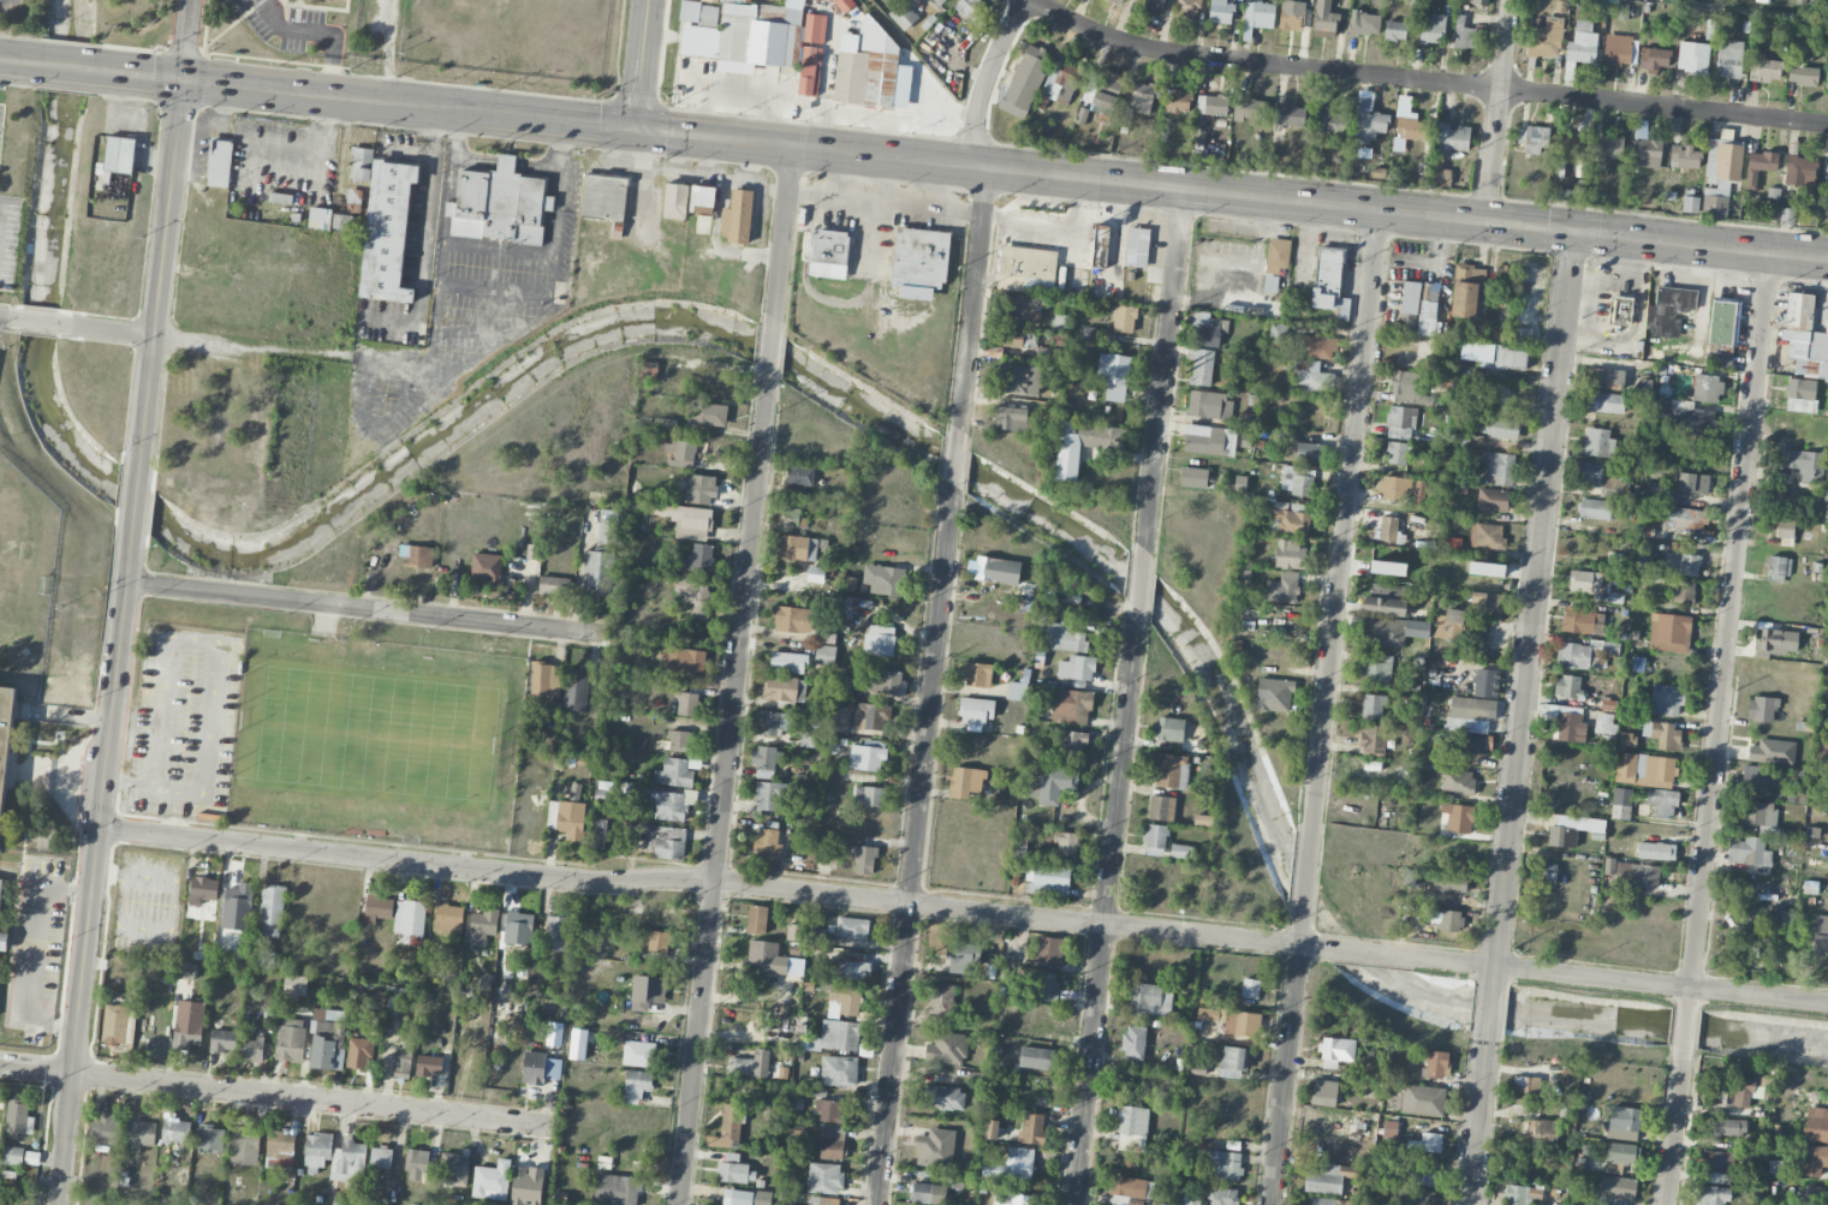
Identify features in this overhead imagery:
building: (716, 0)
building: (776, 0)
building: (817, 0)
building: (939, 1)
building: (1121, 1)
building: (1800, 1)
building: (1479, 2)
building: (844, 5)
parking lot: (8, 6)
building: (1156, 6)
building: (966, 7)
road: (1762, 7)
building: (1189, 8)
building: (1221, 11)
building: (698, 13)
building: (1291, 14)
building: (903, 16)
building: (1257, 17)
building: (1324, 19)
building: (1364, 24)
building: (814, 29)
building: (1431, 29)
building: (1395, 31)
road: (317, 34)
building: (1465, 35)
road: (186, 38)
building: (740, 38)
building: (1544, 38)
building: (1580, 47)
building: (1616, 49)
building: (1653, 59)
building: (1728, 59)
road: (22, 60)
road: (642, 62)
road: (916, 64)
road: (69, 65)
building: (867, 67)
building: (1764, 68)
building: (810, 71)
building: (1827, 74)
building: (1803, 76)
traffic signals: (183, 78)
road: (987, 78)
building: (1025, 82)
road: (1427, 82)
building: (1059, 84)
building: (1106, 93)
building: (1142, 97)
building: (1177, 101)
building: (1211, 105)
building: (1250, 111)
road: (1499, 111)
building: (1290, 115)
building: (1328, 119)
building: (1368, 121)
traffic signals: (636, 126)
building: (1411, 129)
building: (1451, 138)
building: (1534, 138)
building: (1572, 144)
building: (1612, 147)
building: (1647, 153)
building: (117, 157)
building: (1685, 157)
building: (1762, 161)
road: (961, 162)
building: (219, 163)
building: (1579, 168)
building: (1800, 171)
building: (1720, 175)
road: (883, 178)
building: (1441, 178)
building: (1750, 179)
building: (1826, 184)
building: (603, 197)
building: (702, 199)
building: (675, 201)
road: (885, 202)
building: (499, 204)
building: (1689, 204)
building: (1786, 216)
building: (738, 217)
building: (328, 220)
road: (784, 228)
building: (387, 232)
road: (422, 237)
building: (1098, 246)
building: (1137, 247)
building: (828, 255)
building: (1278, 255)
building: (919, 262)
building: (1029, 267)
road: (162, 275)
building: (1507, 276)
building: (1329, 282)
building: (1466, 290)
building: (1429, 291)
road: (972, 294)
building: (1024, 306)
building: (1409, 308)
building: (1619, 311)
building: (1669, 311)
road: (6, 318)
building: (1428, 318)
building: (1124, 320)
road: (36, 322)
building: (1723, 322)
building: (1826, 327)
building: (1207, 329)
building: (1465, 330)
building: (1278, 333)
building: (1804, 336)
building: (1522, 338)
building: (1012, 339)
road: (203, 341)
road: (770, 346)
building: (1318, 346)
building: (1047, 356)
building: (1502, 358)
road: (1165, 365)
building: (1201, 365)
building: (649, 374)
building: (1113, 376)
building: (1312, 378)
building: (1604, 378)
building: (1019, 380)
building: (1406, 383)
building: (1800, 395)
building: (1606, 402)
building: (1209, 406)
building: (707, 414)
building: (1011, 418)
building: (1696, 422)
building: (1400, 423)
building: (1499, 428)
building: (1209, 441)
building: (1598, 443)
building: (1308, 453)
building: (1397, 453)
building: (680, 454)
road: (954, 454)
building: (1805, 464)
building: (1066, 465)
building: (1500, 467)
building: (1590, 475)
building: (799, 476)
building: (1193, 477)
building: (1297, 481)
building: (1692, 483)
building: (1394, 488)
building: (699, 489)
building: (1419, 493)
building: (1657, 494)
road: (138, 499)
building: (1493, 501)
building: (1822, 505)
building: (1595, 509)
building: (1687, 518)
building: (685, 520)
building: (1290, 520)
building: (793, 521)
road: (1345, 521)
building: (1388, 529)
building: (607, 531)
building: (1785, 531)
building: (1488, 535)
building: (797, 548)
building: (1290, 554)
building: (418, 556)
building: (701, 559)
building: (1387, 562)
building: (1680, 563)
building: (486, 567)
building: (1779, 567)
building: (993, 569)
building: (1485, 569)
building: (597, 573)
building: (815, 574)
building: (883, 579)
building: (1588, 581)
road: (1141, 584)
building: (552, 586)
building: (1282, 587)
building: (1683, 591)
building: (696, 597)
building: (1383, 599)
building: (1487, 602)
road: (369, 608)
building: (850, 608)
road: (1532, 608)
building: (793, 620)
building: (1578, 621)
building: (1449, 625)
road: (1728, 630)
building: (1387, 632)
building: (1669, 632)
building: (1064, 637)
building: (879, 640)
building: (1776, 643)
building: (824, 655)
building: (1576, 655)
building: (685, 660)
building: (788, 662)
building: (1077, 668)
building: (1376, 669)
building: (977, 675)
building: (544, 680)
building: (883, 681)
building: (1483, 682)
building: (842, 685)
building: (1568, 687)
building: (784, 688)
building: (576, 690)
building: (1018, 690)
building: (1274, 696)
building: (1666, 700)
building: (686, 704)
building: (1608, 705)
building: (1071, 706)
building: (1373, 706)
building: (1761, 709)
building: (976, 711)
building: (1469, 715)
building: (869, 716)
building: (840, 718)
building: (1603, 722)
building: (774, 723)
building: (1570, 727)
building: (1169, 729)
building: (1663, 735)
building: (1373, 739)
building: (808, 740)
building: (1626, 740)
building: (678, 741)
building: (5, 744)
building: (1072, 744)
building: (1473, 744)
building: (1772, 752)
building: (867, 757)
building: (766, 762)
building: (1171, 770)
building: (1644, 770)
building: (673, 774)
building: (1758, 777)
building: (966, 782)
building: (1458, 782)
road: (163, 785)
building: (1053, 785)
building: (641, 789)
building: (1798, 789)
road: (724, 791)
building: (768, 795)
building: (868, 797)
building: (1621, 797)
building: (1662, 803)
building: (1161, 809)
building: (1759, 816)
building: (566, 818)
building: (1458, 818)
building: (602, 834)
building: (1155, 840)
building: (667, 842)
building: (768, 842)
road: (913, 843)
building: (1066, 845)
building: (1656, 851)
building: (1180, 852)
building: (1749, 852)
building: (864, 860)
road: (95, 864)
building: (1609, 866)
road: (1306, 873)
building: (1547, 875)
building: (1637, 875)
building: (1046, 879)
road: (711, 881)
building: (0, 890)
building: (203, 890)
building: (238, 907)
building: (377, 908)
building: (272, 912)
building: (660, 914)
road: (1107, 914)
building: (448, 919)
building: (756, 919)
building: (1446, 920)
building: (410, 921)
building: (483, 926)
building: (852, 927)
building: (518, 929)
building: (794, 932)
building: (555, 933)
building: (1820, 935)
building: (4, 941)
building: (659, 942)
building: (1741, 942)
road: (25, 952)
building: (1049, 952)
road: (1382, 954)
building: (764, 958)
building: (961, 958)
building: (263, 959)
building: (855, 968)
building: (186, 971)
road: (1633, 980)
building: (294, 985)
building: (1046, 986)
building: (1250, 989)
building: (648, 994)
building: (1150, 998)
building: (393, 1000)
building: (941, 1000)
building: (844, 1001)
road: (1489, 1012)
building: (189, 1024)
building: (1243, 1024)
building: (114, 1025)
building: (554, 1034)
building: (839, 1034)
road: (1684, 1034)
building: (291, 1039)
building: (222, 1040)
building: (1133, 1043)
building: (252, 1049)
building: (947, 1049)
building: (1335, 1052)
building: (358, 1054)
building: (638, 1054)
building: (1036, 1058)
building: (404, 1060)
road: (1288, 1060)
building: (1232, 1062)
building: (1436, 1063)
building: (750, 1064)
building: (429, 1066)
building: (540, 1068)
building: (839, 1070)
building: (636, 1085)
building: (1525, 1085)
building: (1745, 1092)
building: (1323, 1093)
road: (278, 1097)
building: (946, 1098)
building: (1423, 1100)
building: (828, 1110)
building: (18, 1118)
road: (1477, 1122)
building: (1624, 1122)
building: (1816, 1125)
building: (138, 1127)
building: (727, 1127)
building: (1728, 1127)
building: (1032, 1128)
building: (992, 1129)
building: (1132, 1129)
building: (1389, 1129)
building: (103, 1131)
building: (175, 1131)
building: (1544, 1132)
road: (1673, 1134)
building: (210, 1139)
building: (830, 1141)
building: (1427, 1143)
building: (245, 1146)
building: (280, 1149)
building: (935, 1149)
building: (317, 1150)
building: (13, 1156)
building: (1620, 1157)
building: (380, 1158)
building: (1815, 1159)
building: (347, 1161)
building: (1220, 1162)
building: (416, 1164)
building: (1013, 1164)
building: (1717, 1164)
building: (1776, 1167)
building: (453, 1170)
building: (734, 1170)
building: (1422, 1177)
building: (824, 1179)
building: (1328, 1179)
building: (492, 1181)
building: (526, 1186)
building: (617, 1189)
building: (1127, 1191)
building: (1615, 1191)
building: (1816, 1192)
building: (928, 1193)
building: (1222, 1195)
building: (1517, 1195)
building: (1711, 1195)
building: (745, 1198)
building: (1416, 1198)
building: (1014, 1199)
building: (824, 1200)
building: (1190, 1201)
building: (1328, 1201)

